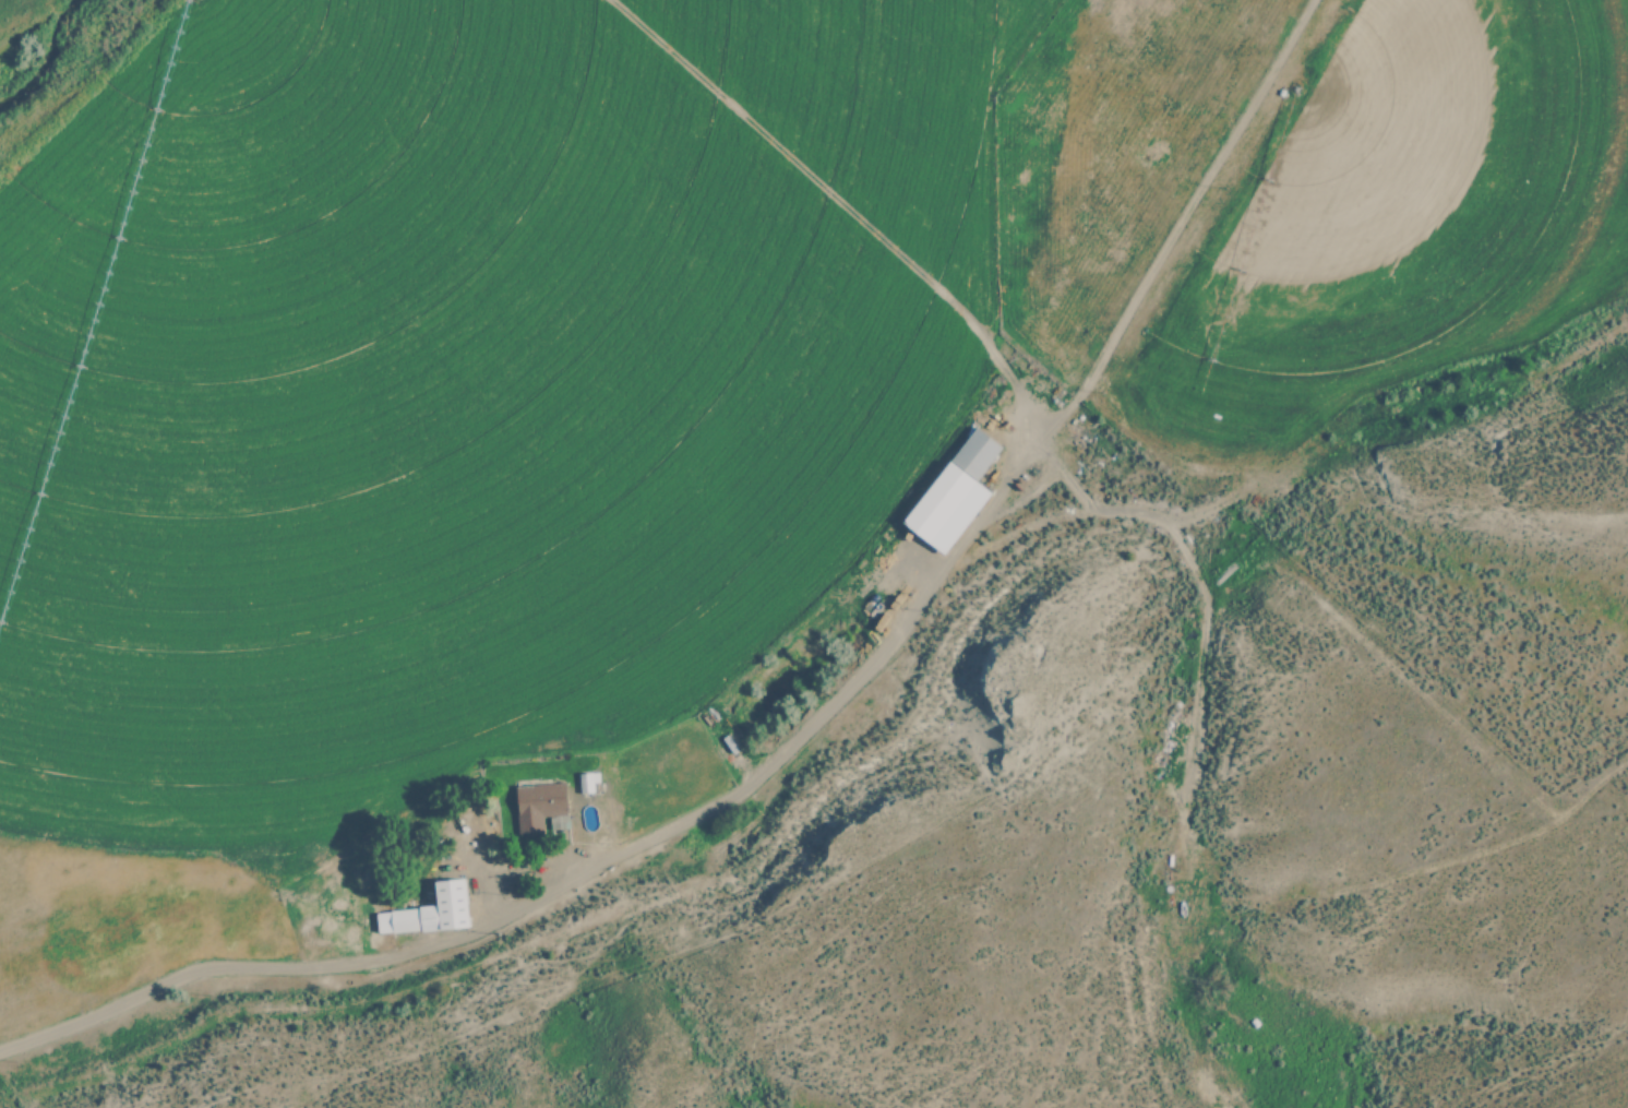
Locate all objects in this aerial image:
river: (55, 29)
building: (954, 492)
building: (587, 782)
building: (538, 806)
road: (574, 881)
building: (429, 912)

